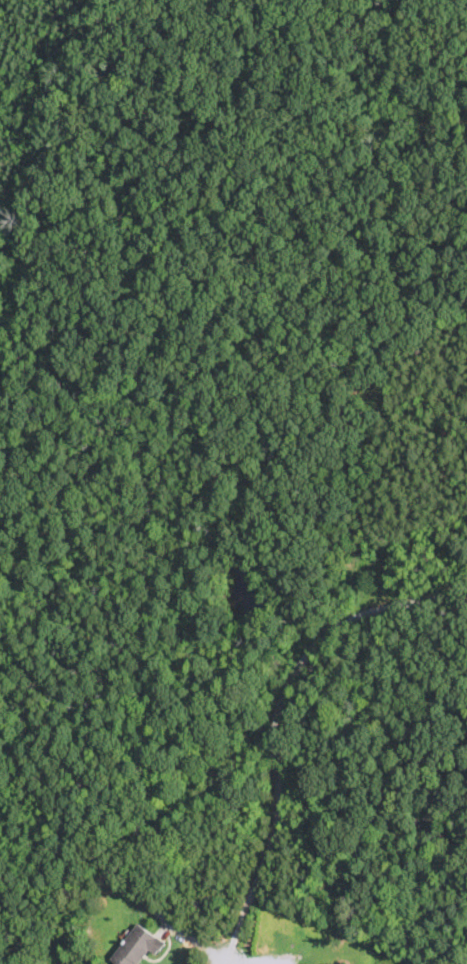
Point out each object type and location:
road: (276, 715)
building: (136, 946)
road: (225, 959)

